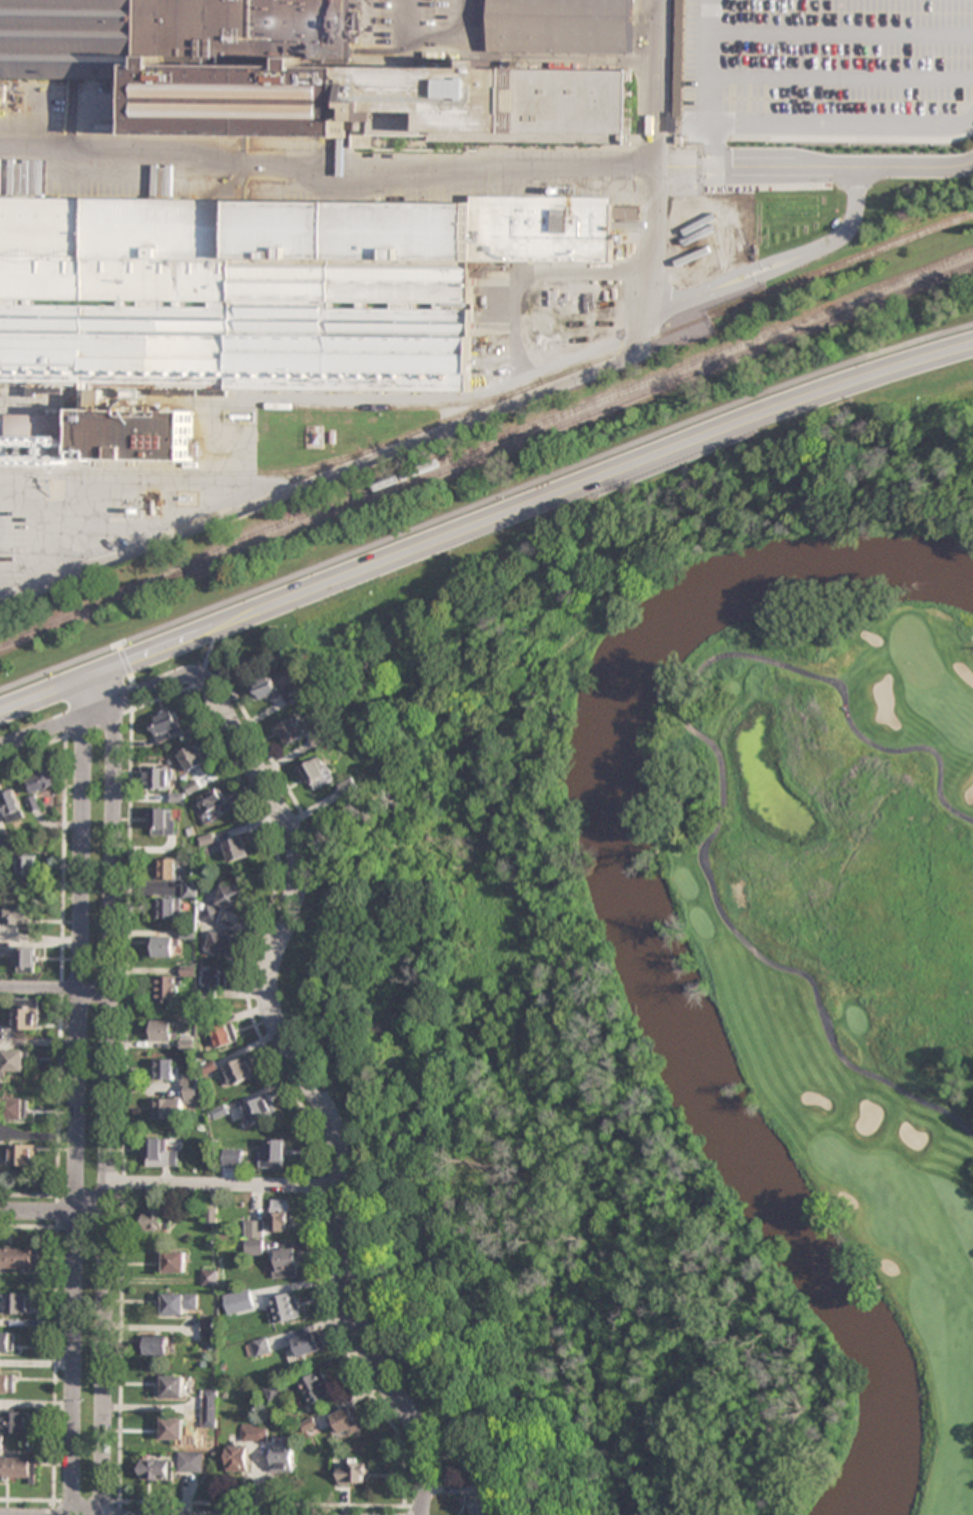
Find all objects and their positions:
building: (561, 27)
road: (842, 34)
parking lot: (826, 70)
building: (298, 74)
road: (803, 76)
road: (813, 134)
road: (716, 150)
road: (410, 162)
road: (679, 165)
road: (838, 166)
building: (266, 287)
railway: (683, 327)
road: (898, 362)
road: (530, 375)
railway: (358, 407)
railway: (569, 410)
railway: (486, 454)
railway: (199, 471)
road: (326, 477)
road: (485, 496)
railway: (246, 499)
road: (411, 545)
parking lot: (6, 550)
road: (210, 647)
park: (916, 652)
building: (265, 690)
building: (293, 693)
road: (99, 709)
building: (167, 726)
building: (293, 731)
road: (863, 743)
building: (194, 758)
building: (319, 772)
building: (158, 777)
building: (42, 780)
building: (349, 786)
building: (213, 801)
building: (12, 806)
building: (164, 821)
building: (238, 849)
building: (28, 867)
building: (167, 868)
building: (191, 888)
building: (232, 896)
building: (169, 907)
building: (212, 913)
building: (20, 916)
river: (632, 928)
park: (846, 934)
building: (222, 943)
building: (164, 946)
building: (26, 960)
road: (776, 968)
building: (215, 979)
road: (40, 987)
road: (96, 987)
building: (166, 988)
park: (563, 998)
building: (27, 1014)
building: (162, 1030)
building: (221, 1032)
building: (14, 1062)
building: (165, 1069)
building: (241, 1071)
road: (309, 1084)
road: (109, 1087)
road: (78, 1094)
building: (178, 1101)
building: (17, 1109)
building: (260, 1109)
building: (274, 1153)
building: (161, 1154)
building: (24, 1156)
building: (233, 1158)
road: (223, 1184)
road: (54, 1210)
building: (280, 1215)
building: (157, 1219)
building: (254, 1237)
building: (19, 1257)
building: (175, 1262)
building: (288, 1262)
building: (250, 1298)
building: (19, 1303)
building: (181, 1303)
building: (285, 1307)
building: (209, 1328)
building: (8, 1341)
building: (310, 1343)
building: (157, 1345)
building: (262, 1346)
building: (8, 1382)
building: (173, 1386)
building: (318, 1387)
building: (276, 1392)
building: (211, 1408)
building: (348, 1420)
building: (16, 1421)
building: (173, 1429)
building: (255, 1432)
building: (1, 1442)
building: (238, 1458)
building: (283, 1459)
building: (192, 1461)
building: (18, 1468)
building: (158, 1469)
building: (353, 1473)
building: (483, 1504)

